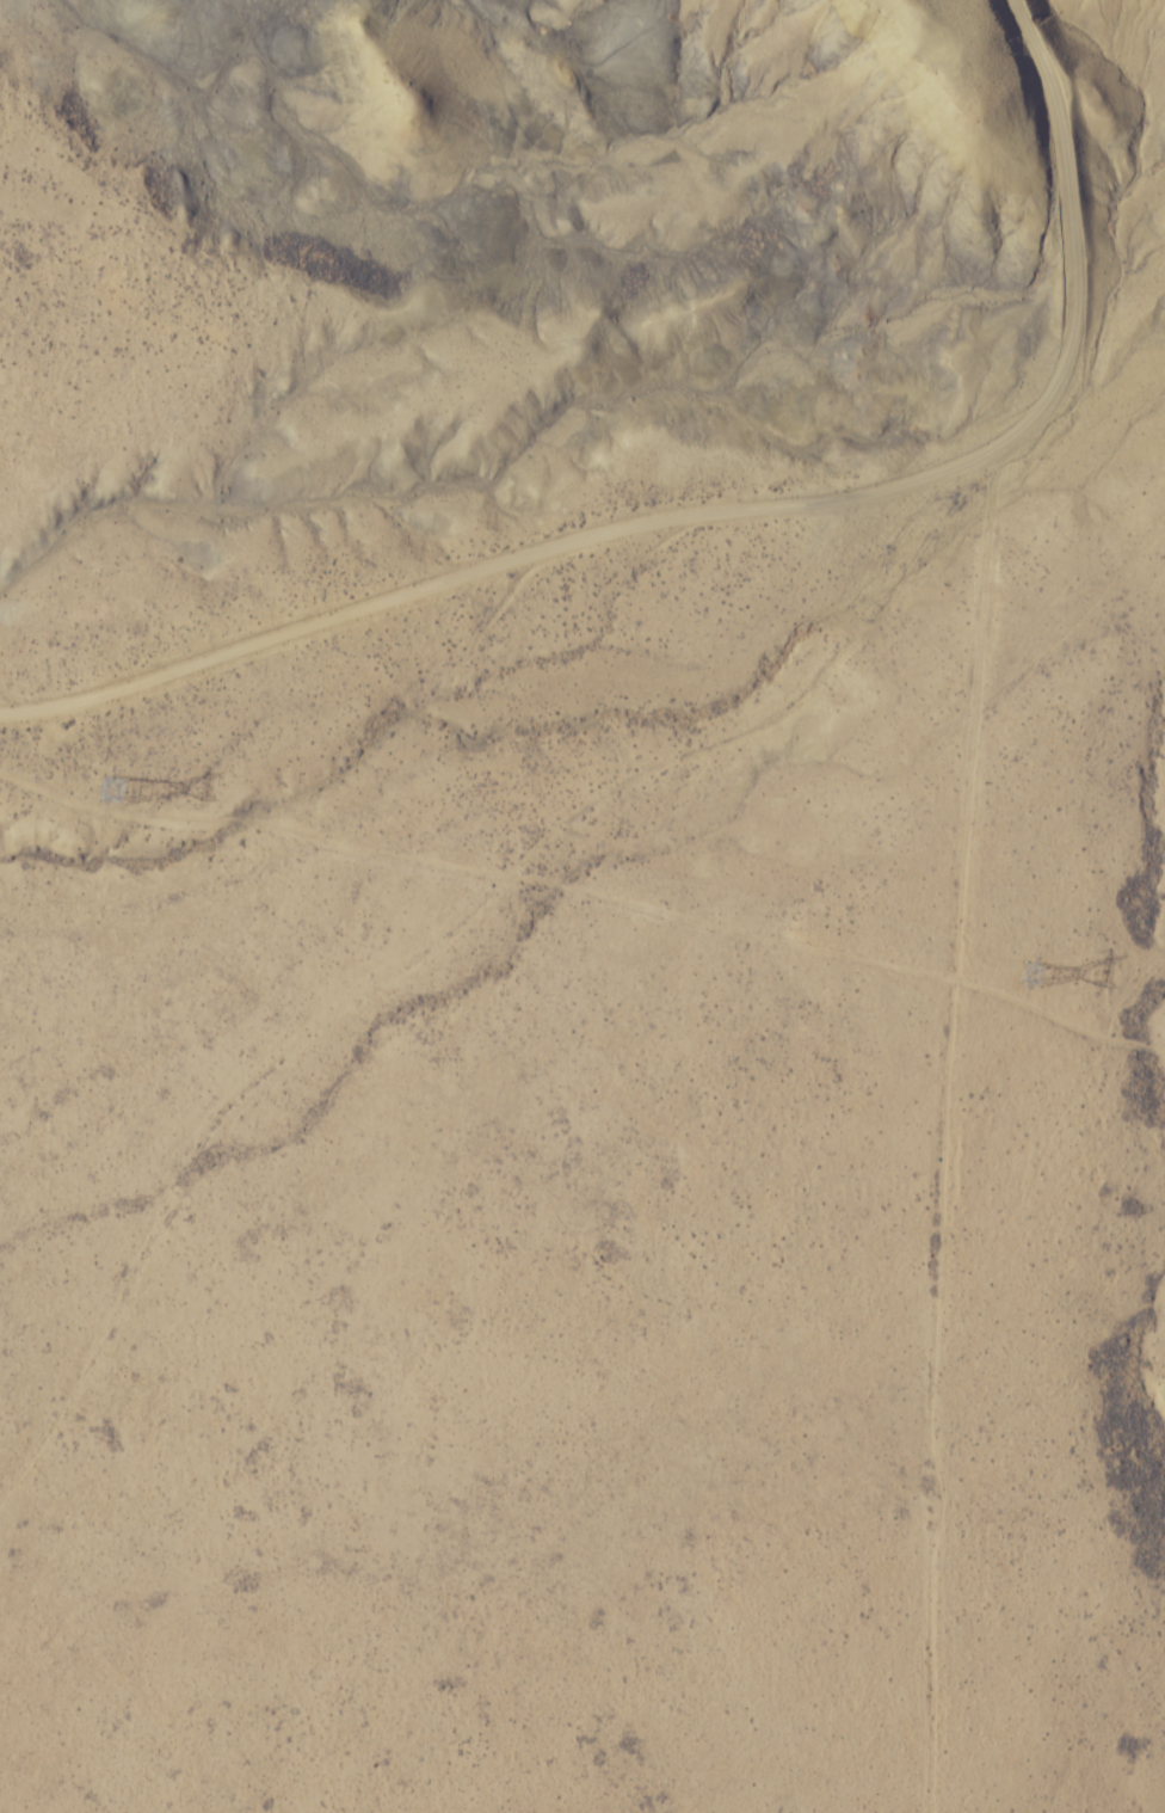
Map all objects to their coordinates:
road: (944, 275)
road: (445, 584)
road: (591, 656)
road: (58, 693)
power tower: (104, 768)
power tower: (1029, 959)
road: (141, 964)

